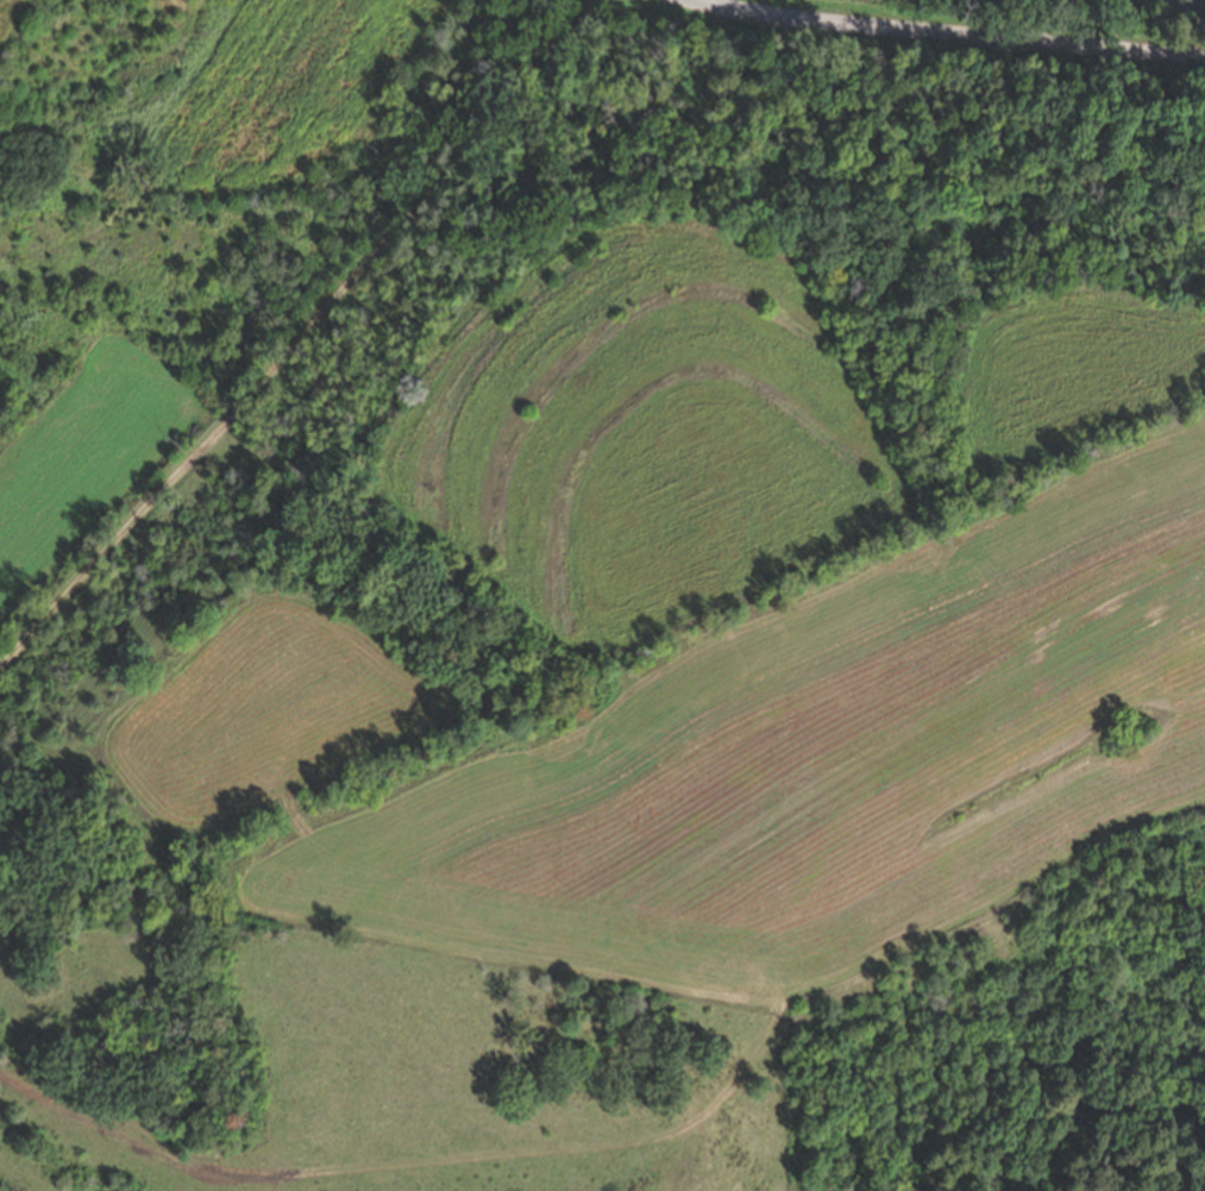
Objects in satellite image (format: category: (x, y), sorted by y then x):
road: (946, 36)
road: (296, 333)

